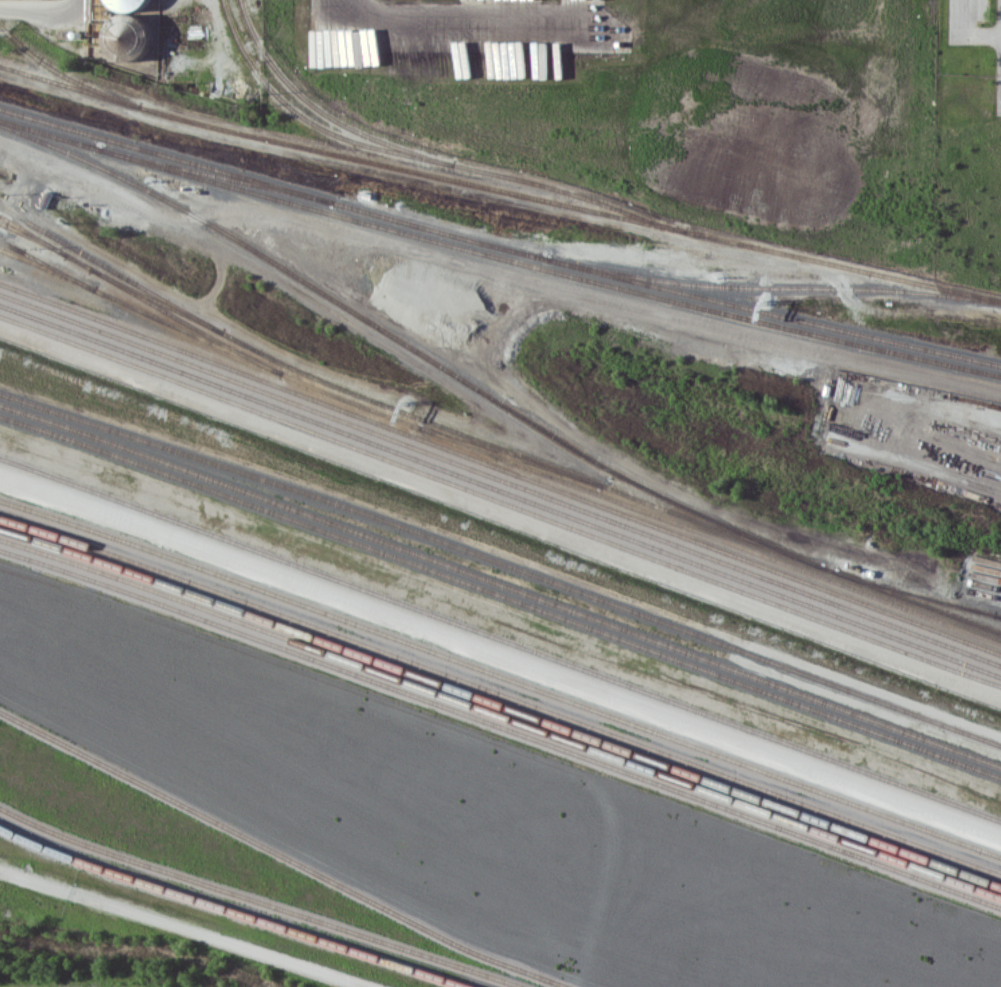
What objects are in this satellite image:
building: (129, 4)
road: (452, 12)
parking lot: (968, 20)
road: (970, 30)
building: (127, 36)
railway: (63, 74)
railway: (323, 111)
railway: (423, 157)
railway: (213, 173)
railway: (499, 189)
railway: (32, 238)
railway: (11, 245)
railway: (497, 245)
railway: (498, 256)
railway: (46, 264)
road: (378, 268)
railway: (773, 286)
railway: (156, 299)
railway: (141, 312)
railway: (410, 346)
railway: (489, 444)
railway: (489, 455)
railway: (509, 457)
railway: (500, 469)
railway: (500, 480)
railway: (500, 490)
railway: (500, 500)
road: (500, 513)
railway: (388, 523)
railway: (500, 585)
railway: (917, 595)
railway: (500, 596)
railway: (996, 615)
railway: (501, 636)
road: (502, 653)
railway: (501, 675)
railway: (501, 691)
railway: (501, 703)
railway: (886, 704)
railway: (500, 714)
railway: (501, 725)
railway: (282, 855)
railway: (263, 900)
railway: (233, 910)
road: (182, 928)

